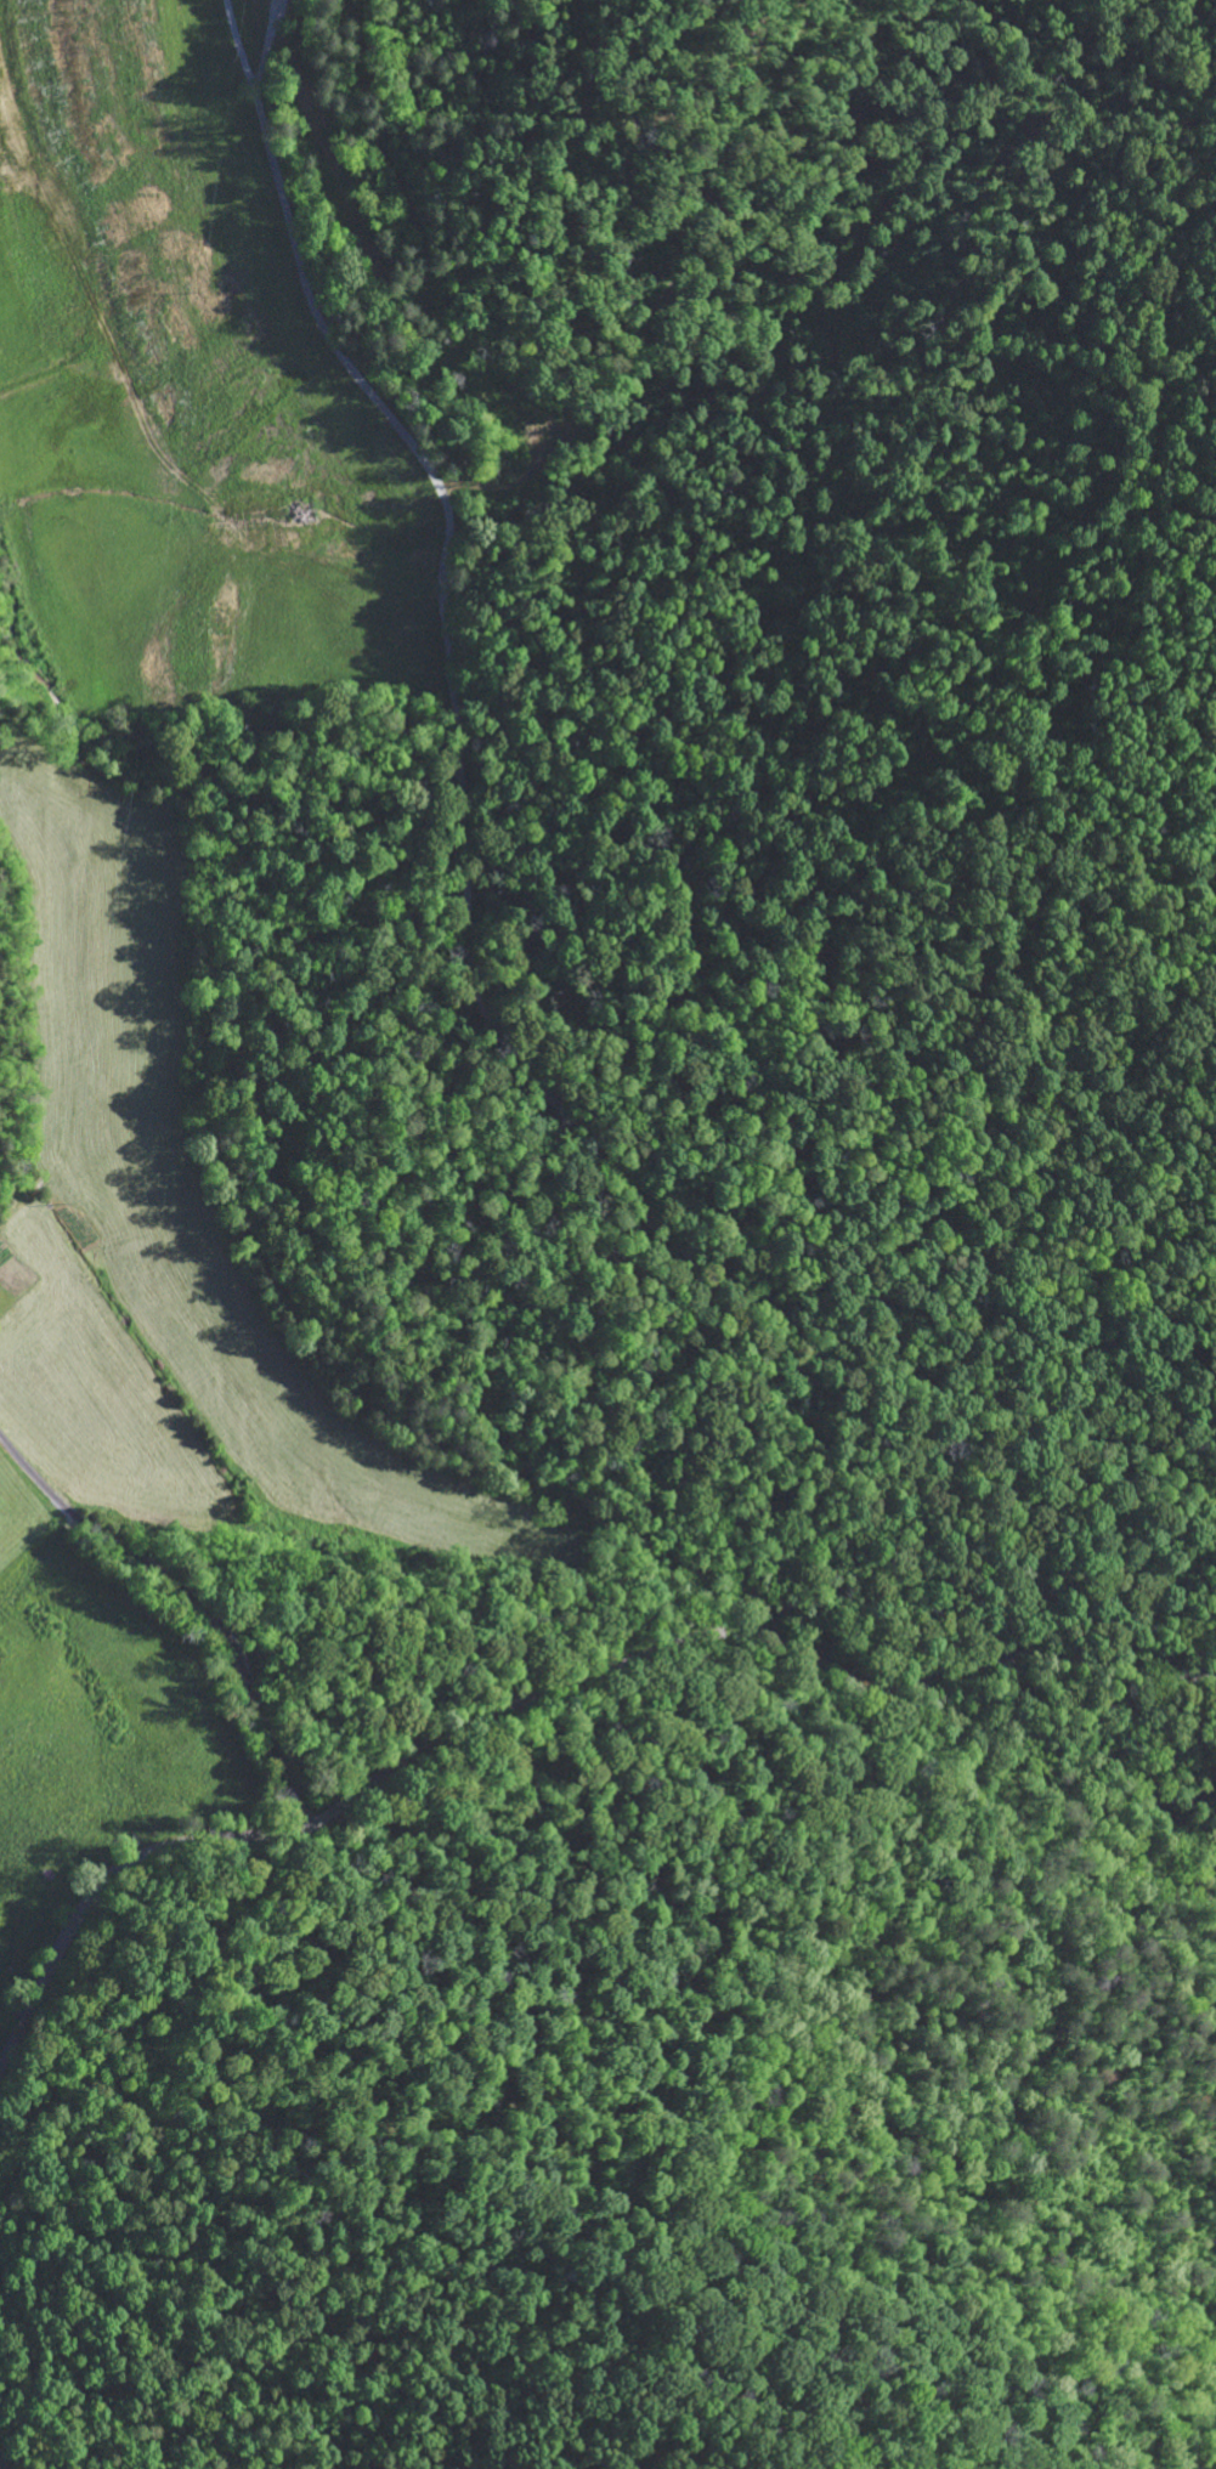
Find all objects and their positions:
road: (474, 928)
road: (187, 1602)
road: (542, 1694)
road: (870, 1973)
road: (7, 2460)

